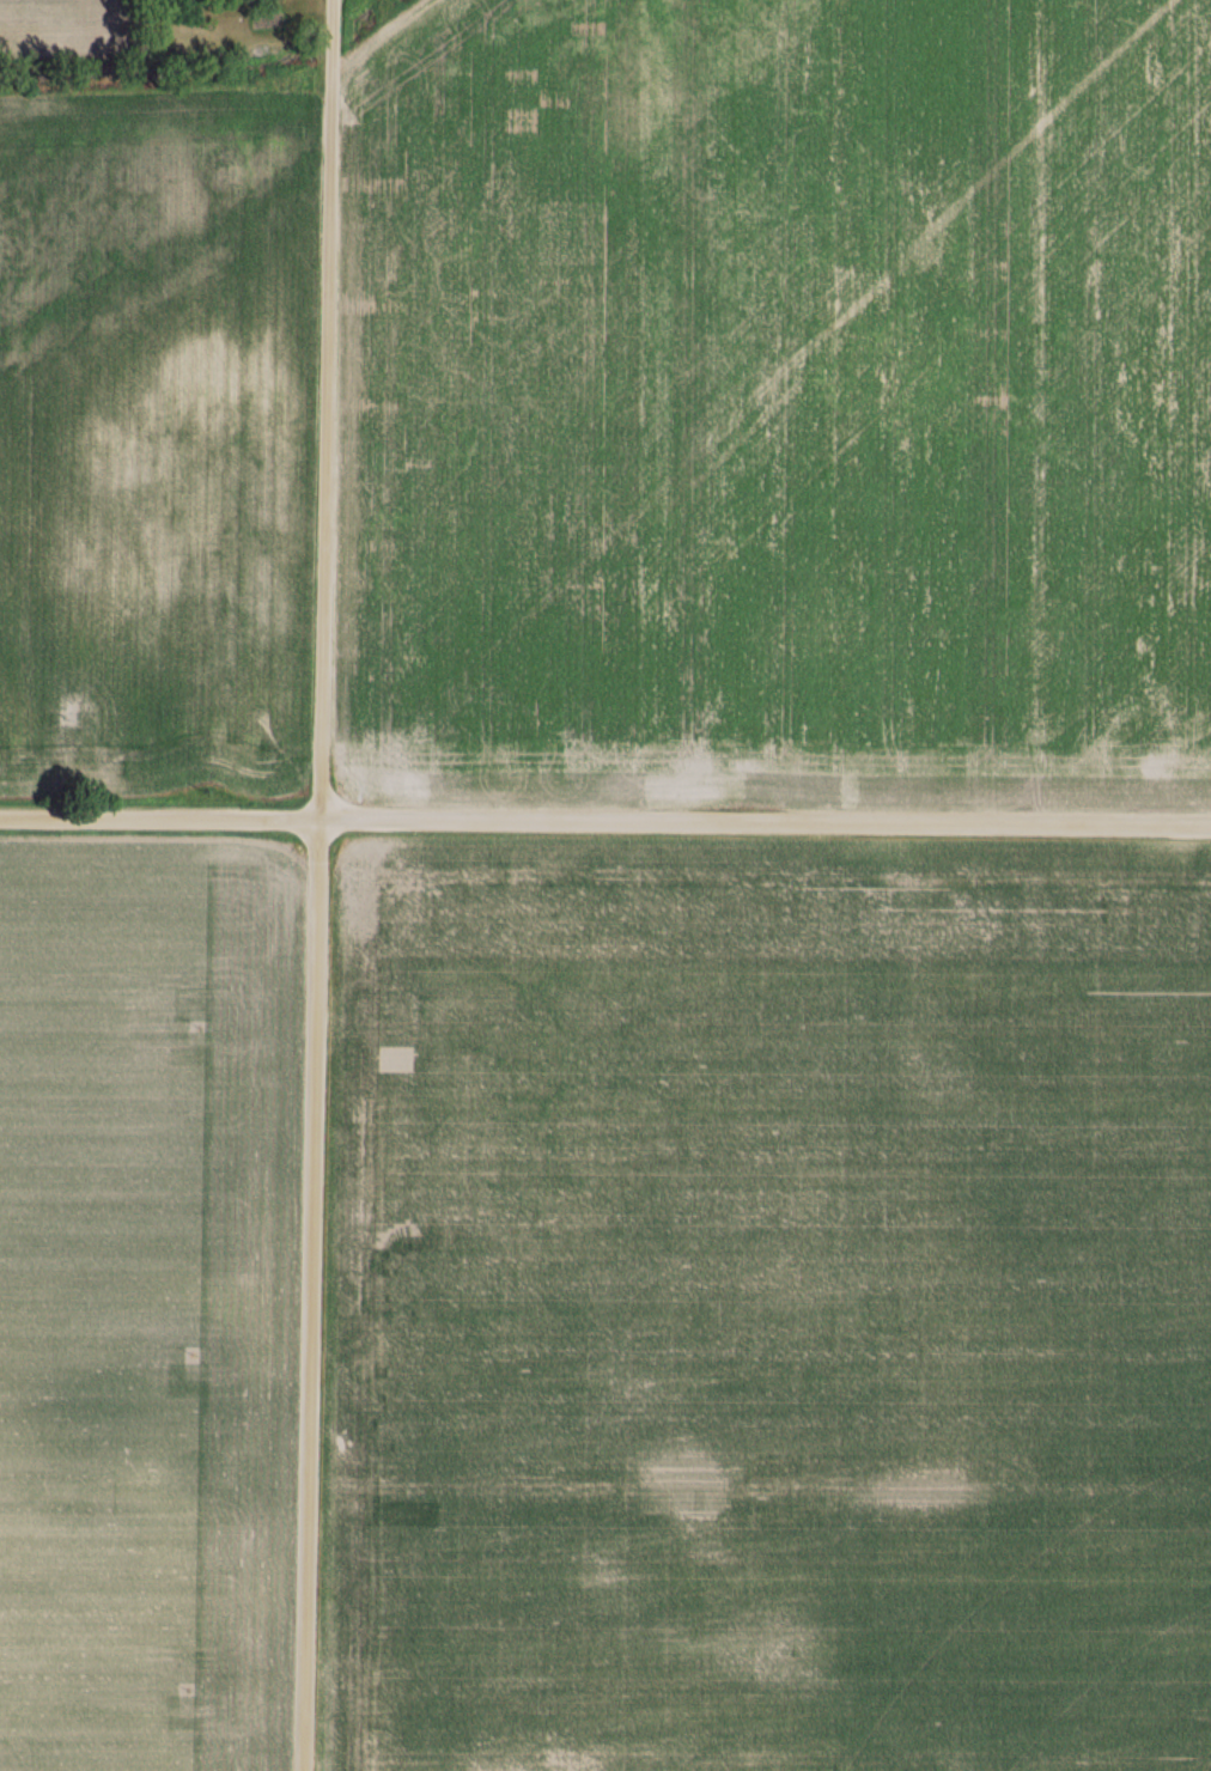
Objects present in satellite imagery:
road: (604, 827)
road: (324, 885)

